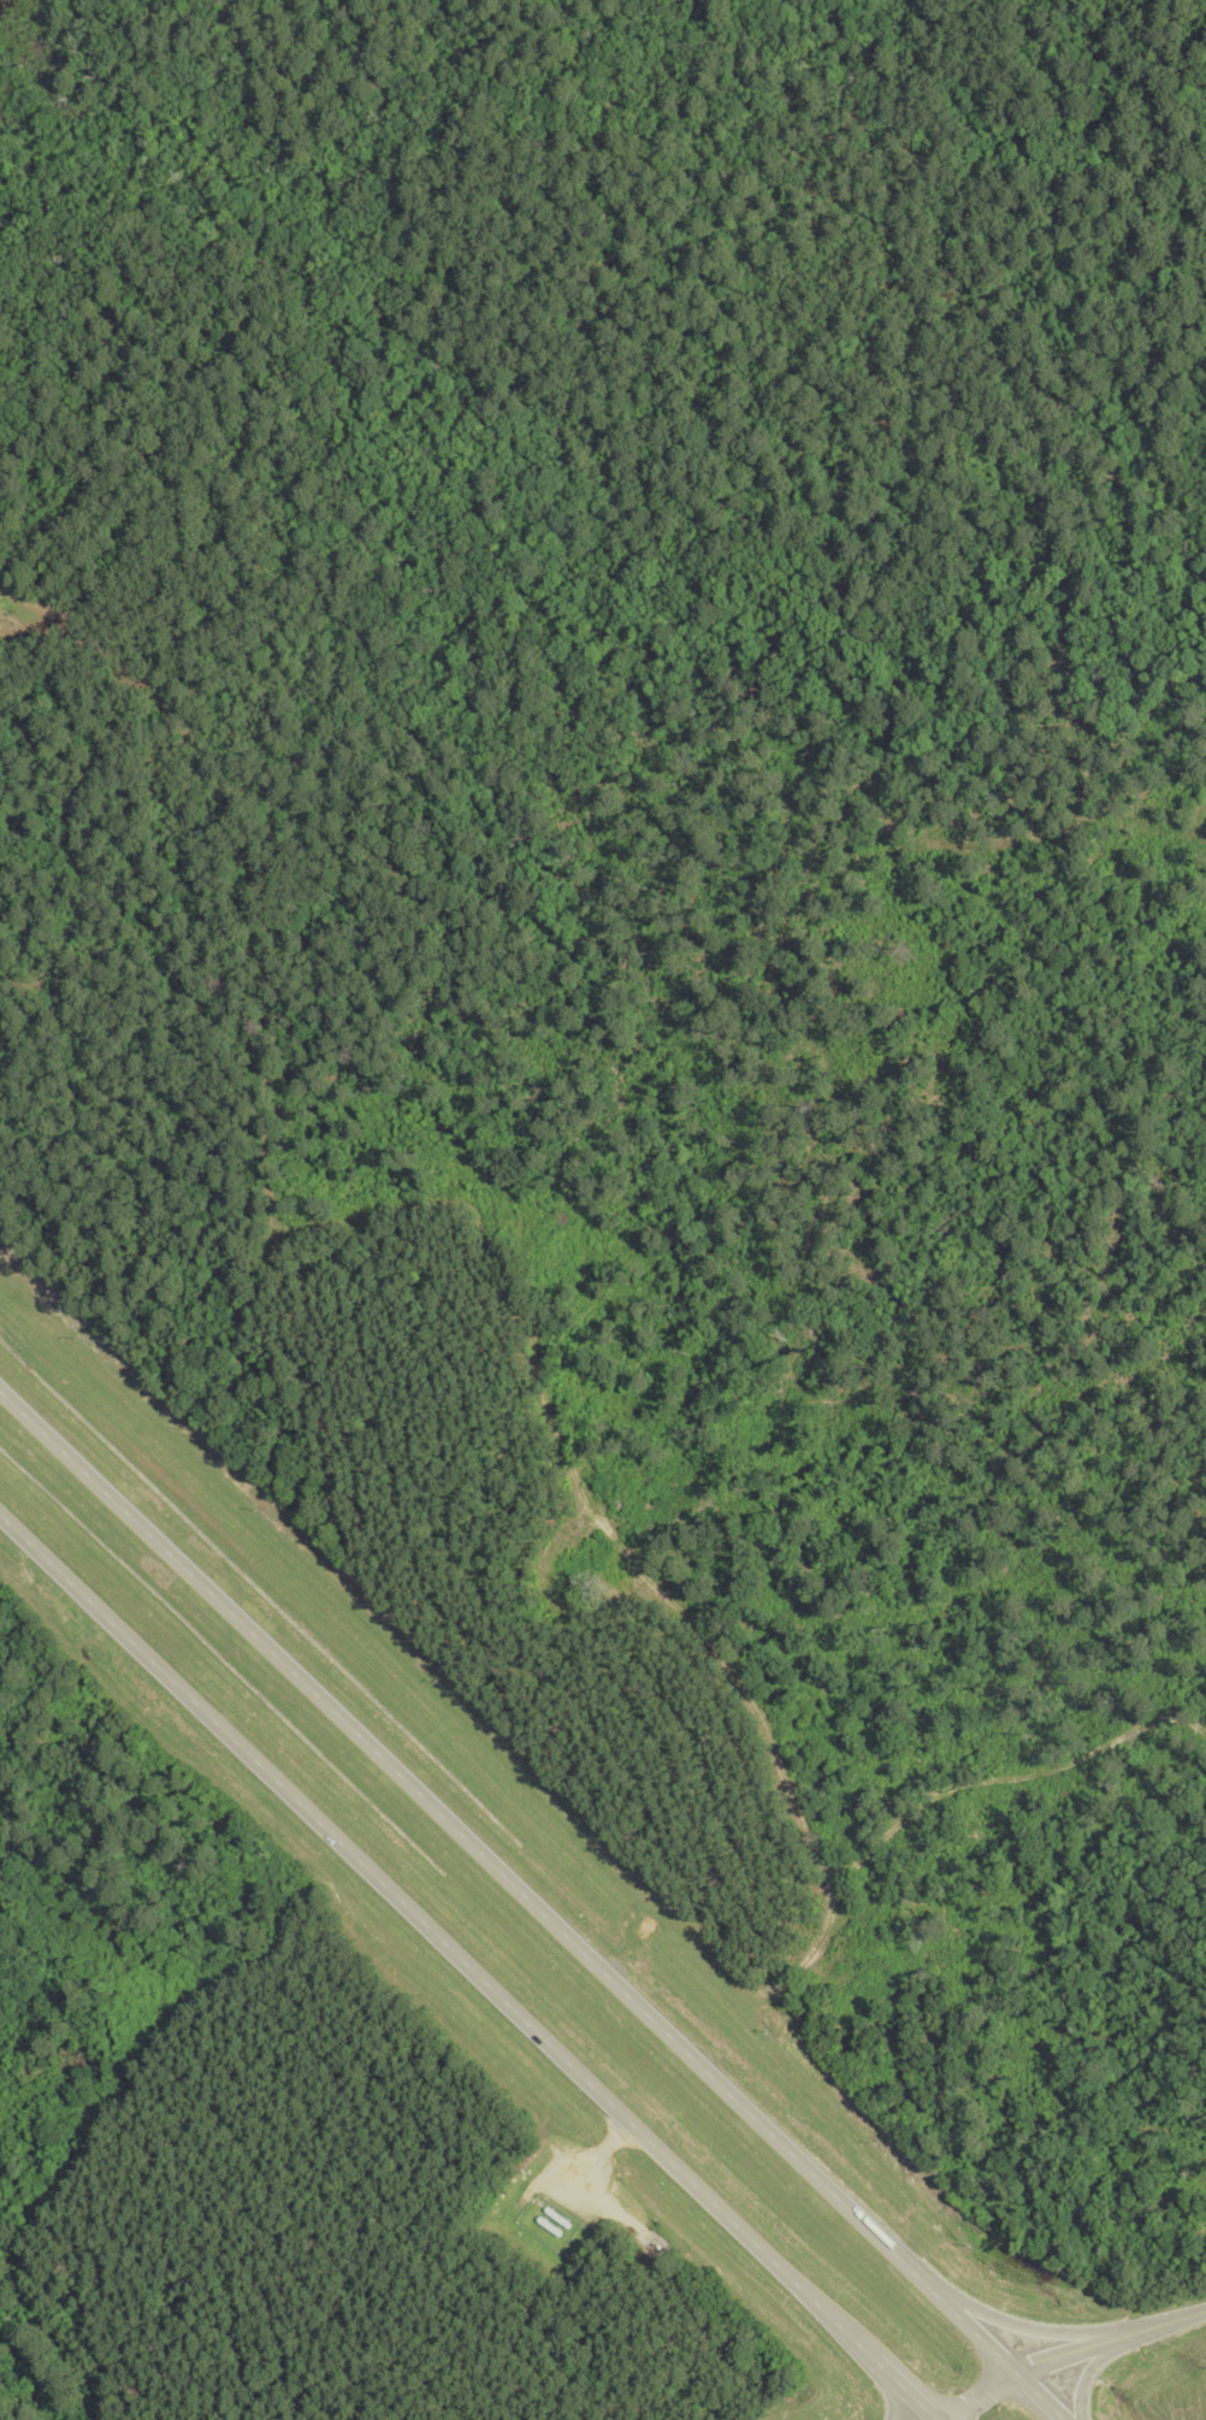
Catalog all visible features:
road: (507, 1883)
road: (416, 1920)
road: (593, 2159)
building: (557, 2217)
storage tank: (557, 2217)
building: (549, 2225)
storage tank: (549, 2225)
road: (1023, 2327)
road: (1111, 2337)
road: (886, 2372)
road: (1084, 2377)
road: (980, 2396)
road: (1042, 2396)

